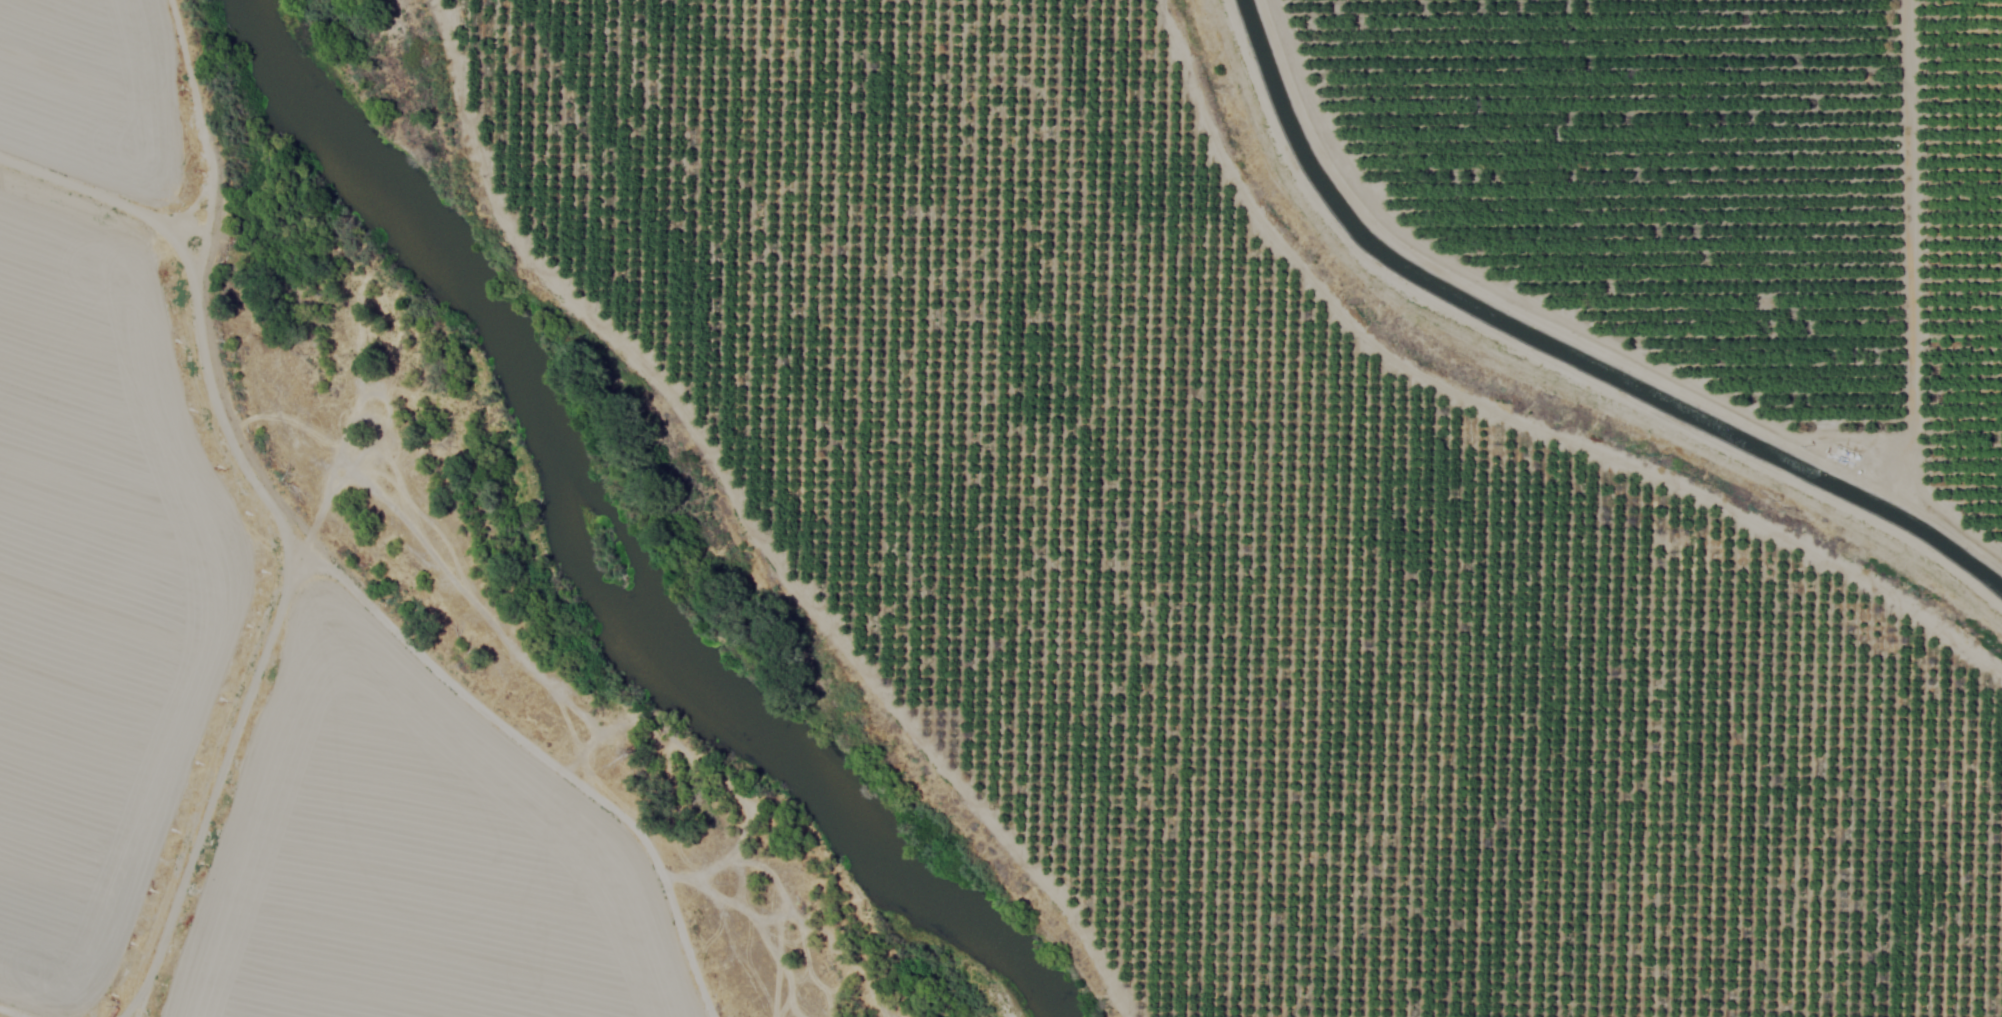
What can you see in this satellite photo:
crop: (1372, 456)
river: (605, 537)
road: (355, 581)

